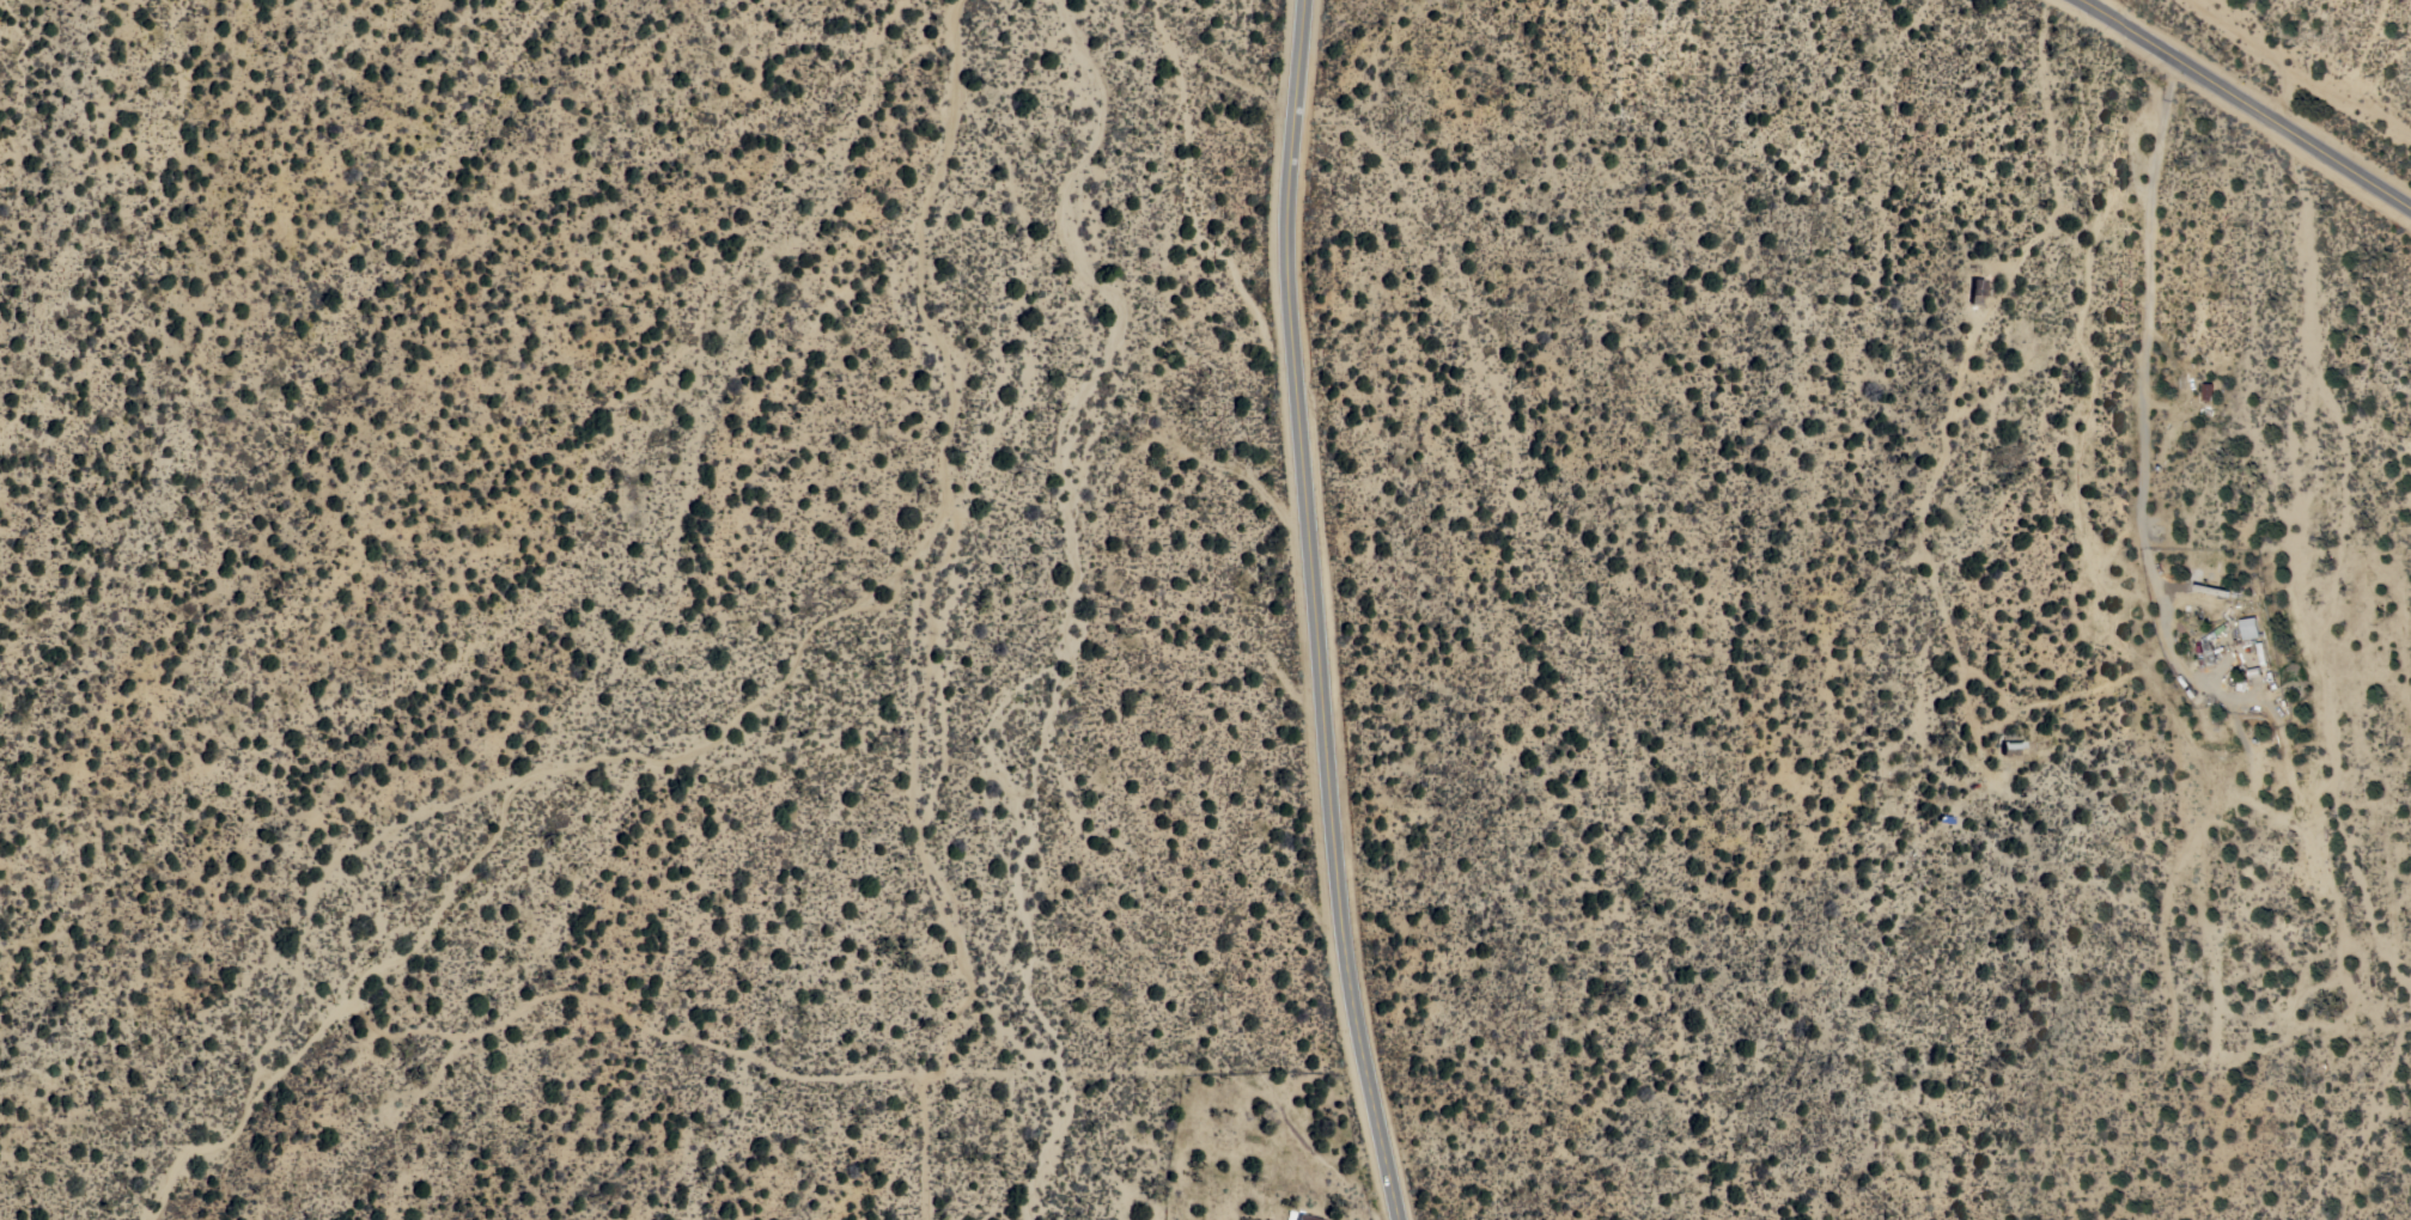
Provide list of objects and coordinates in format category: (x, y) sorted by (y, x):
road: (2248, 99)
building: (1974, 289)
road: (2150, 340)
building: (2208, 390)
road: (1296, 615)
building: (2249, 628)
building: (2261, 653)
building: (2009, 746)
building: (1301, 1214)

